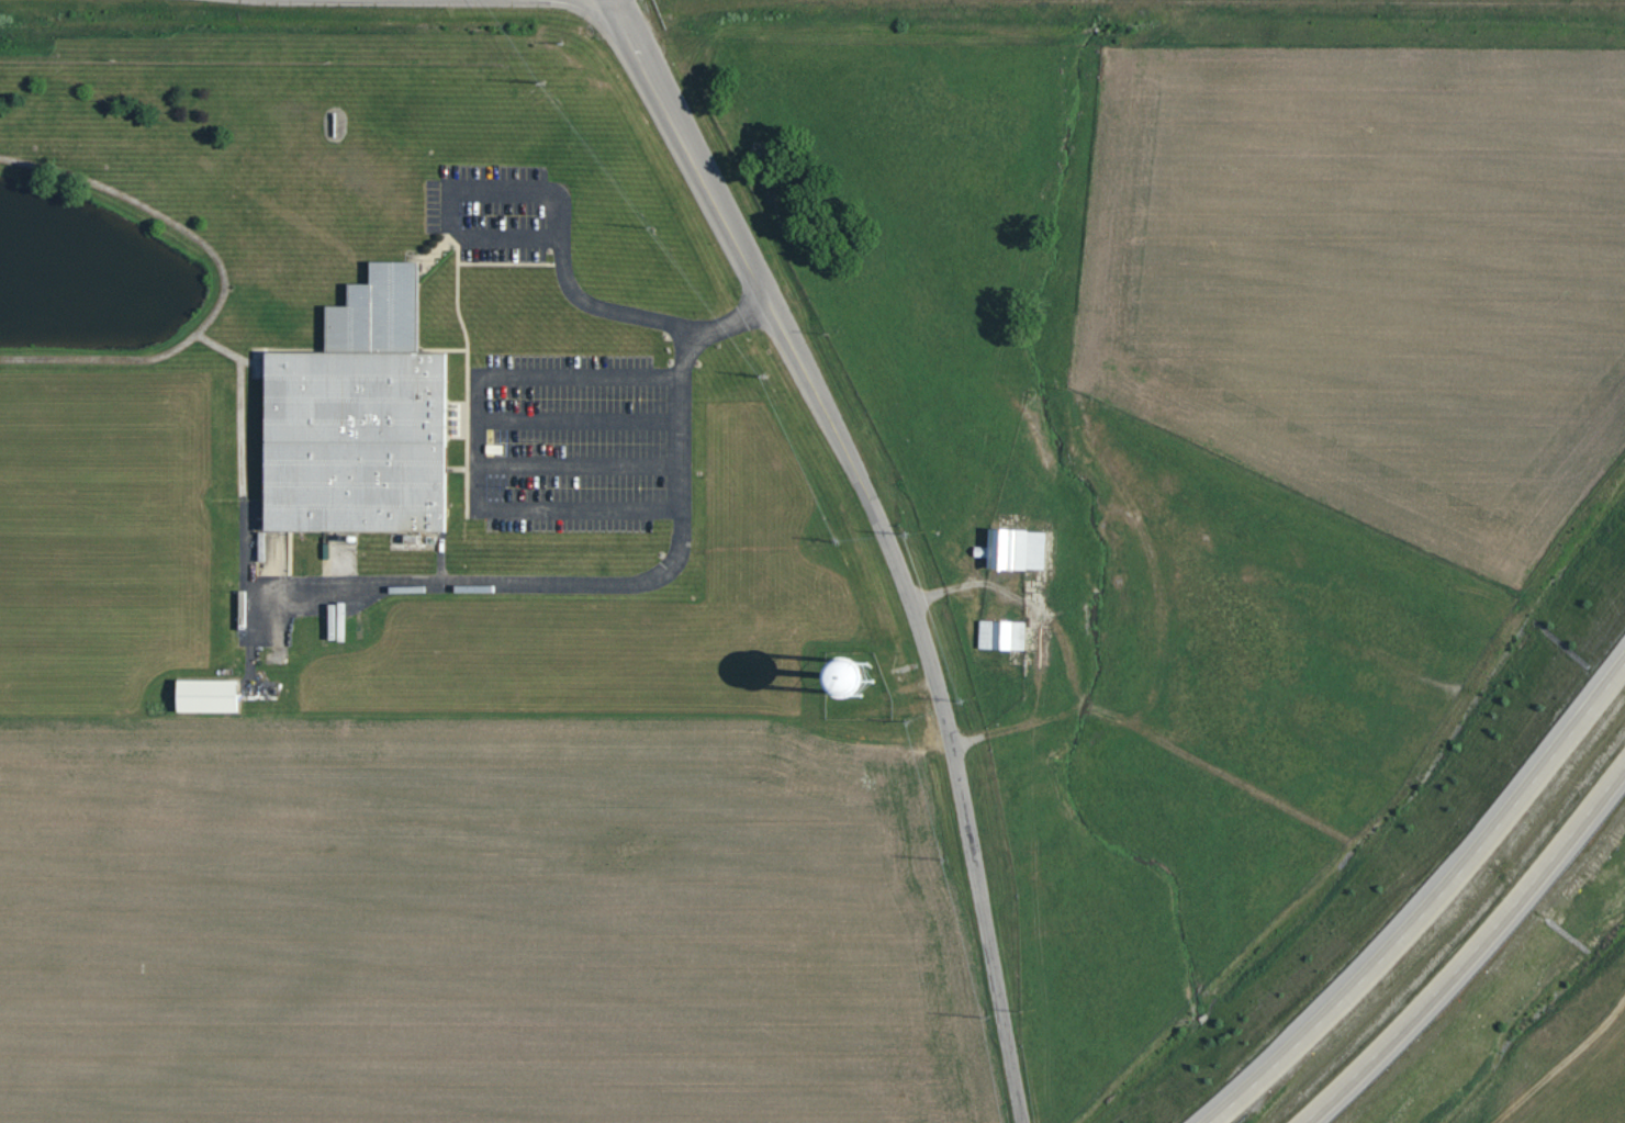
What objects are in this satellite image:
road: (645, 67)
road: (444, 207)
road: (160, 211)
road: (553, 214)
road: (439, 246)
road: (508, 263)
road: (601, 308)
park: (182, 328)
road: (233, 350)
road: (107, 363)
road: (466, 373)
road: (522, 377)
road: (815, 393)
building: (371, 425)
road: (250, 438)
road: (690, 443)
road: (485, 446)
road: (690, 528)
road: (255, 550)
building: (1027, 551)
building: (1017, 637)
building: (833, 671)
water tower: (864, 681)
building: (220, 697)
road: (978, 892)
road: (1437, 919)
road: (1486, 966)

